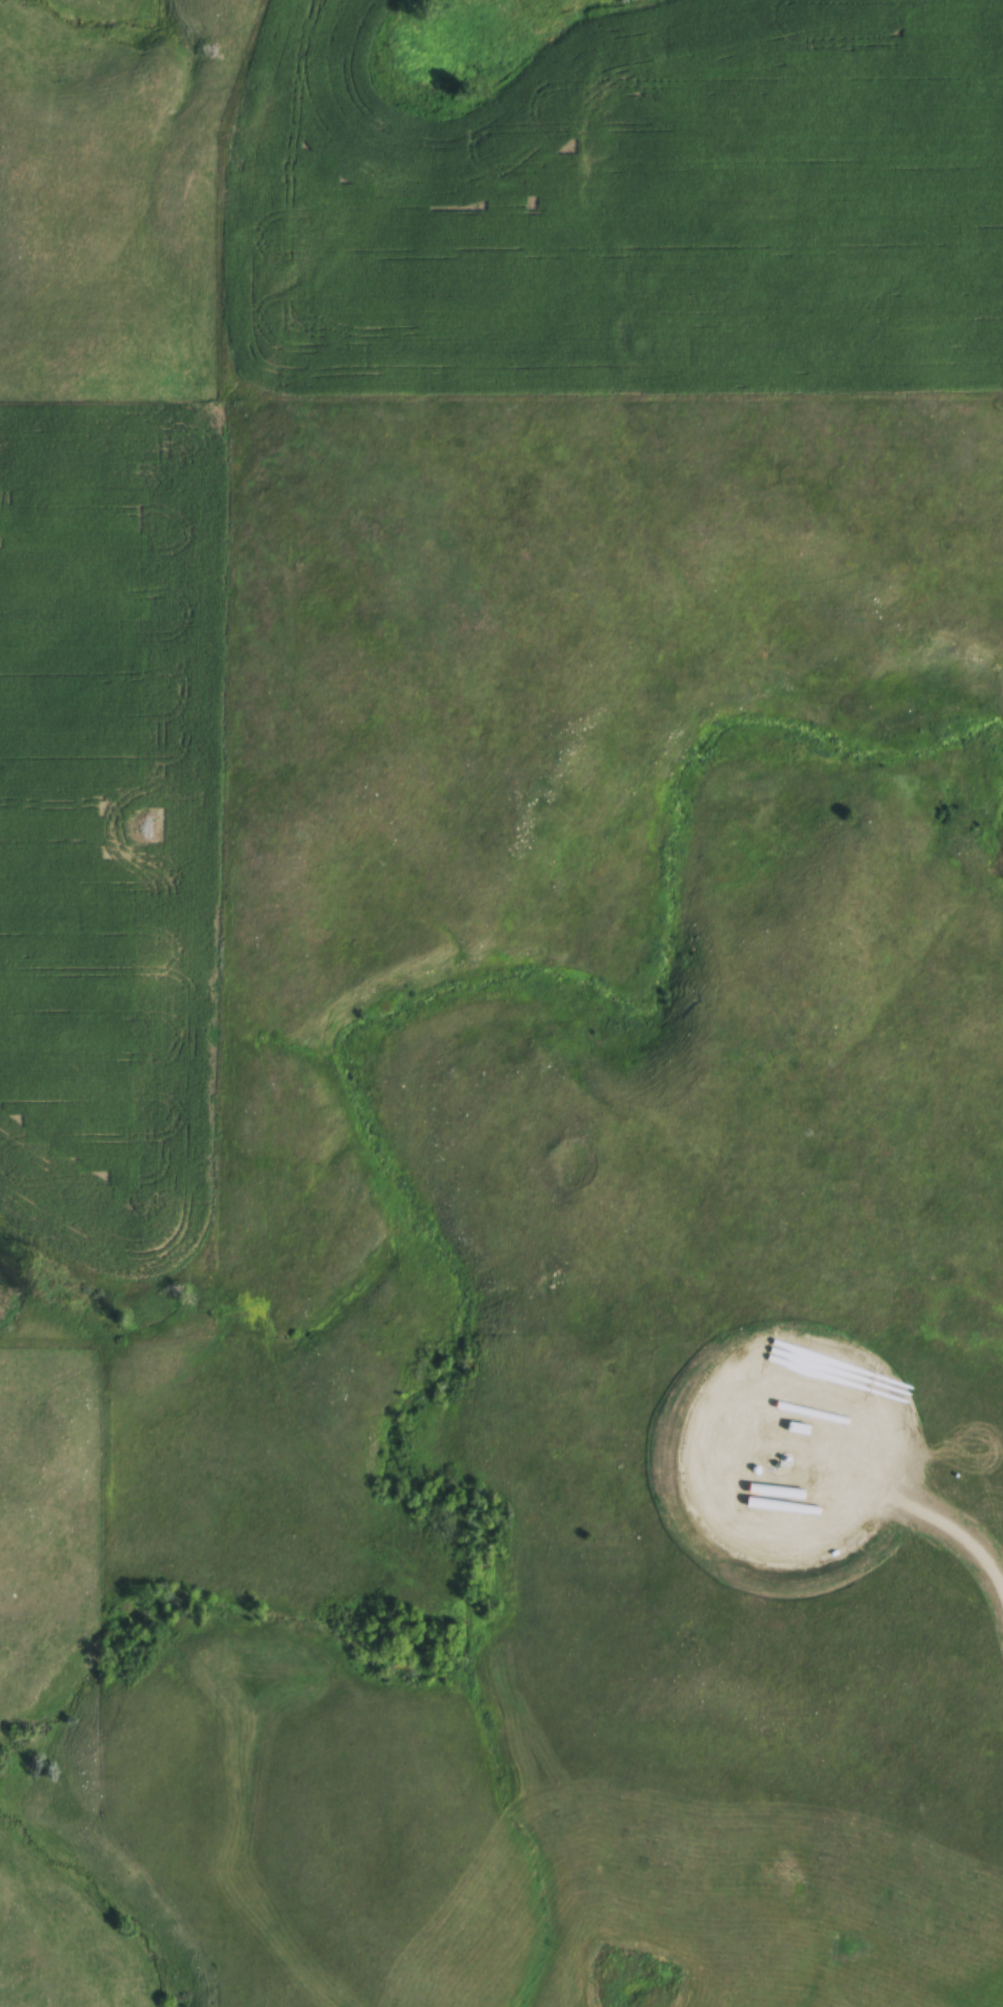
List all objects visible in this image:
wind turbine: (792, 1450)

